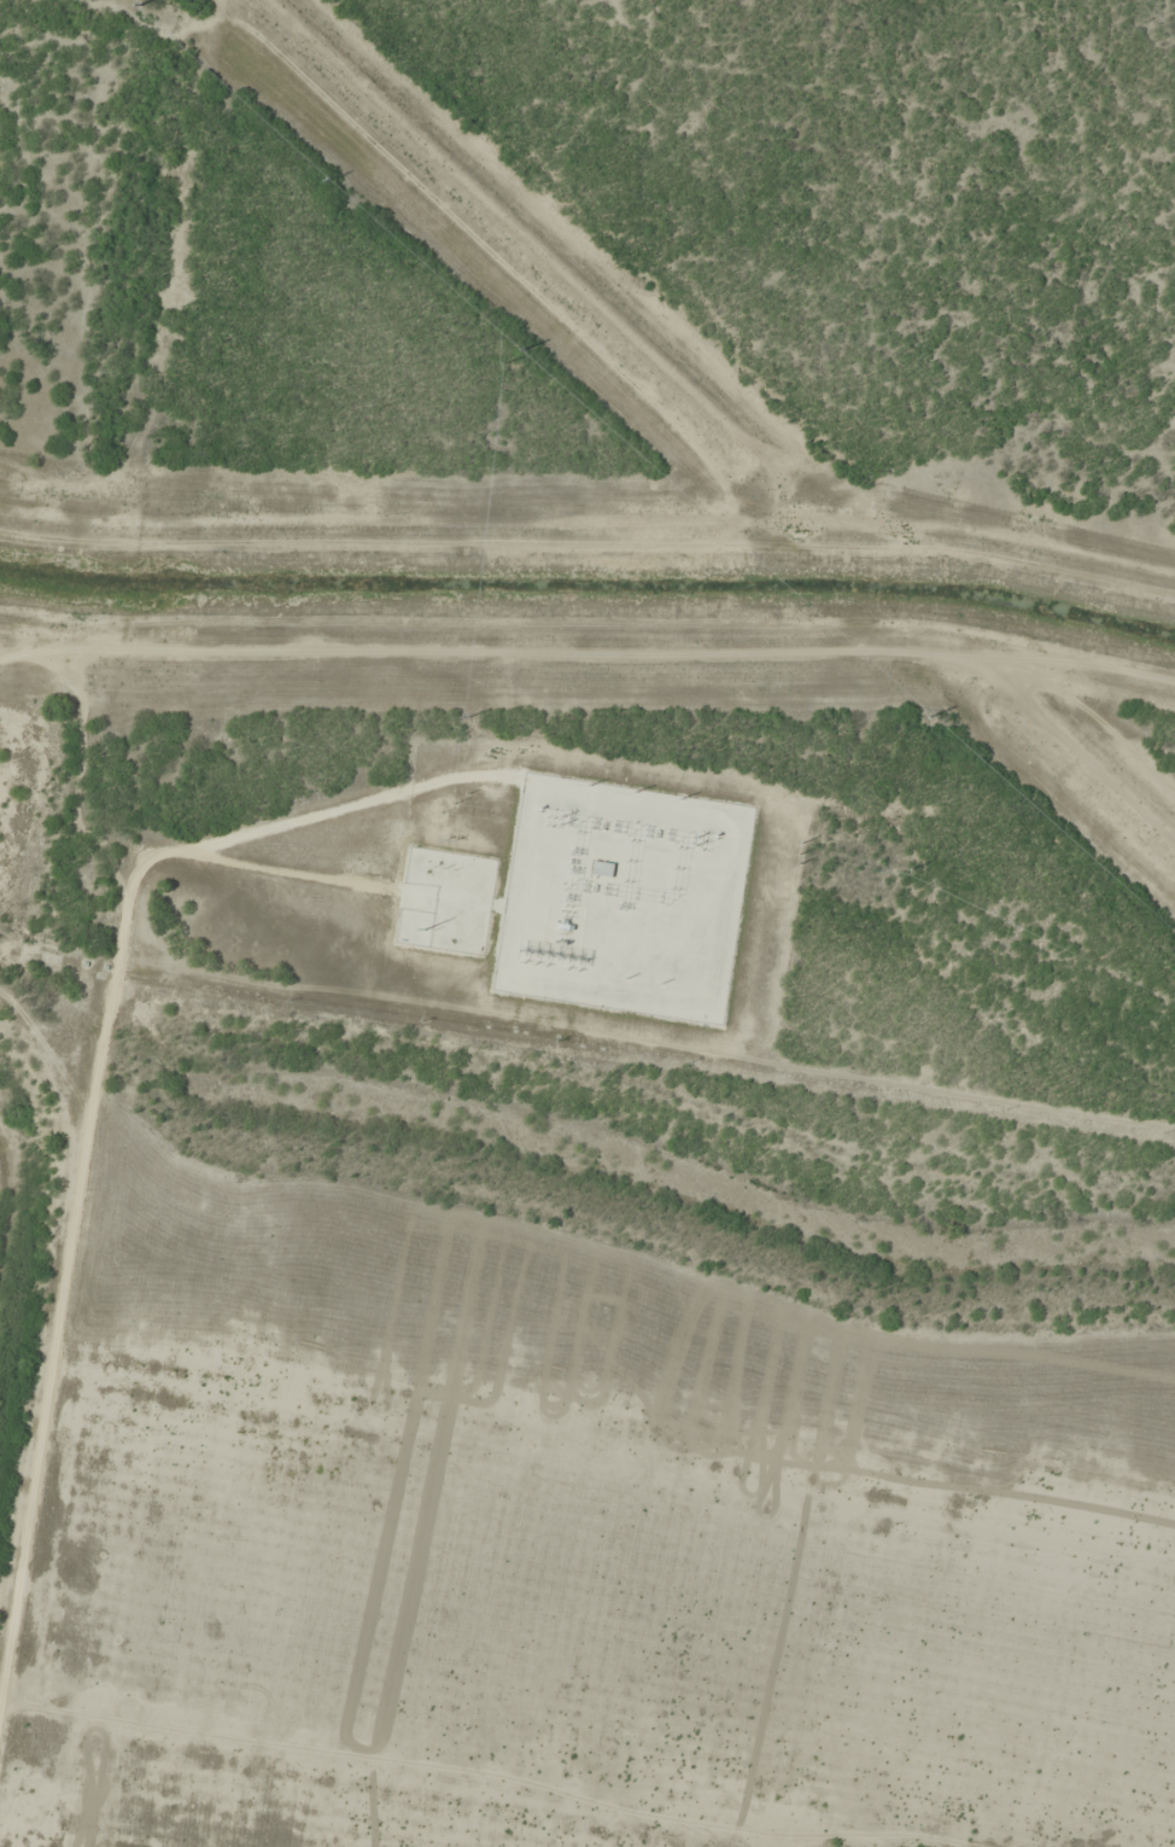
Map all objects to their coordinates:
power tower: (563, 820)
power tower: (698, 840)
building: (602, 870)
power substation: (624, 899)

